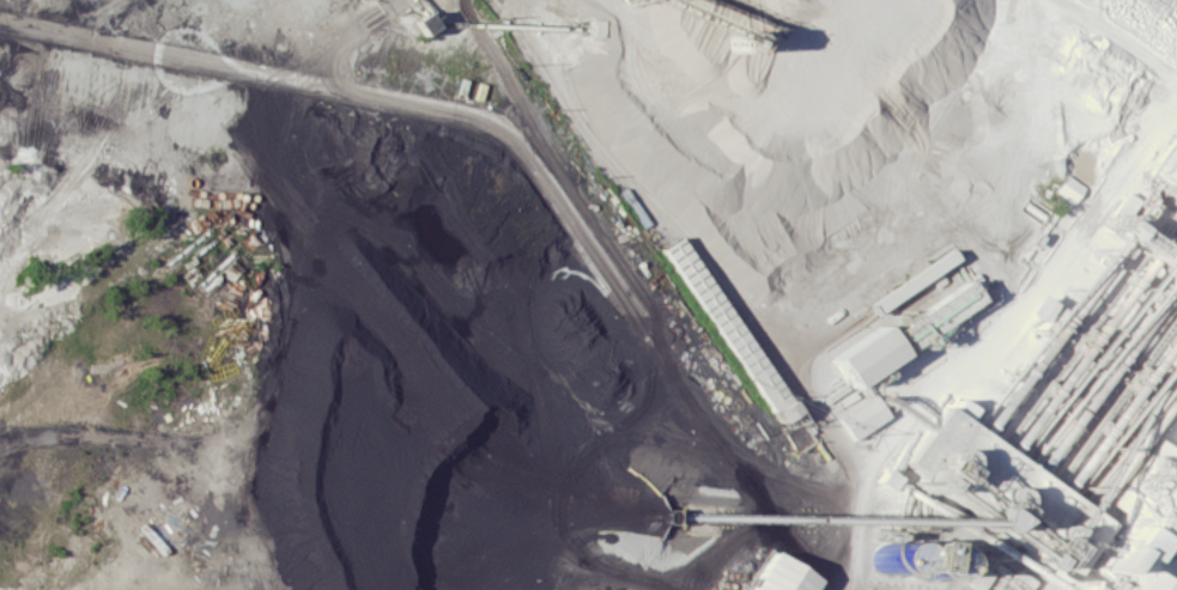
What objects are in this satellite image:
building: (866, 355)
building: (1140, 536)
building: (778, 576)
railway: (1170, 583)

